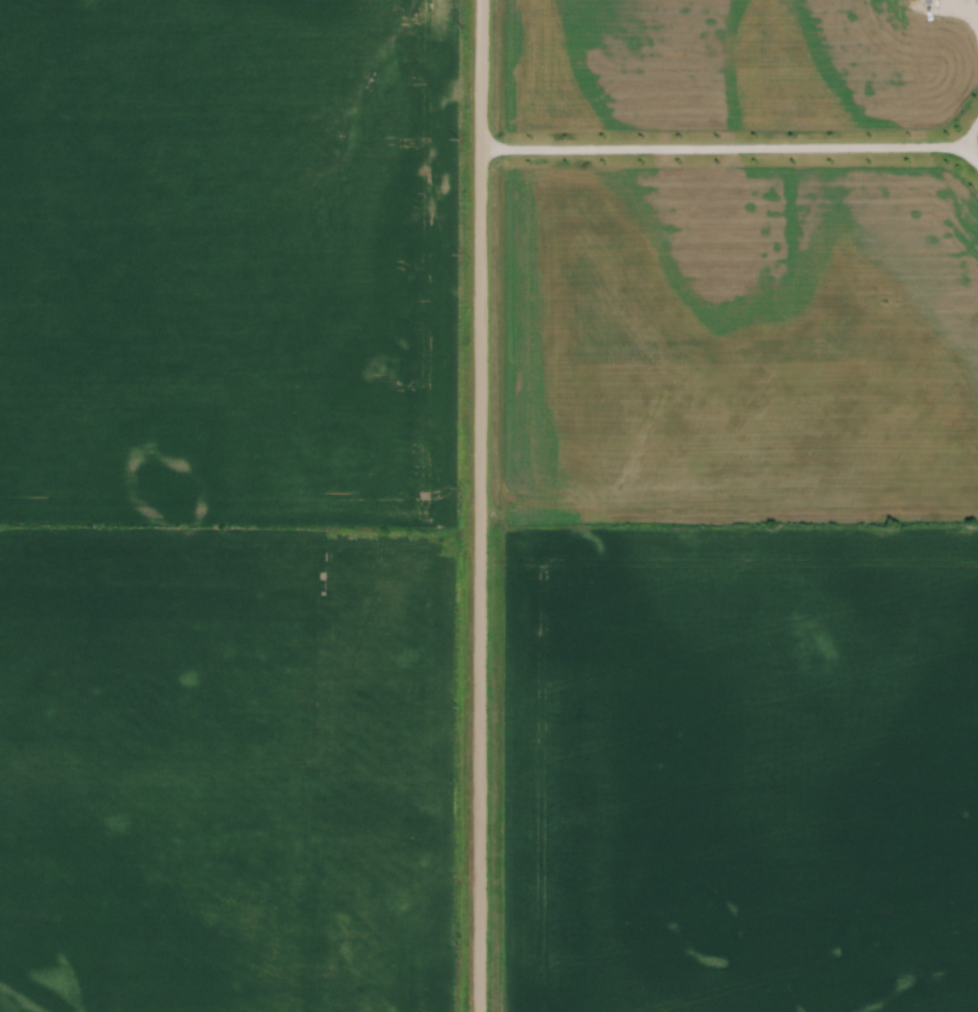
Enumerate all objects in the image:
road: (976, 18)
road: (967, 134)
road: (732, 146)
road: (485, 506)

